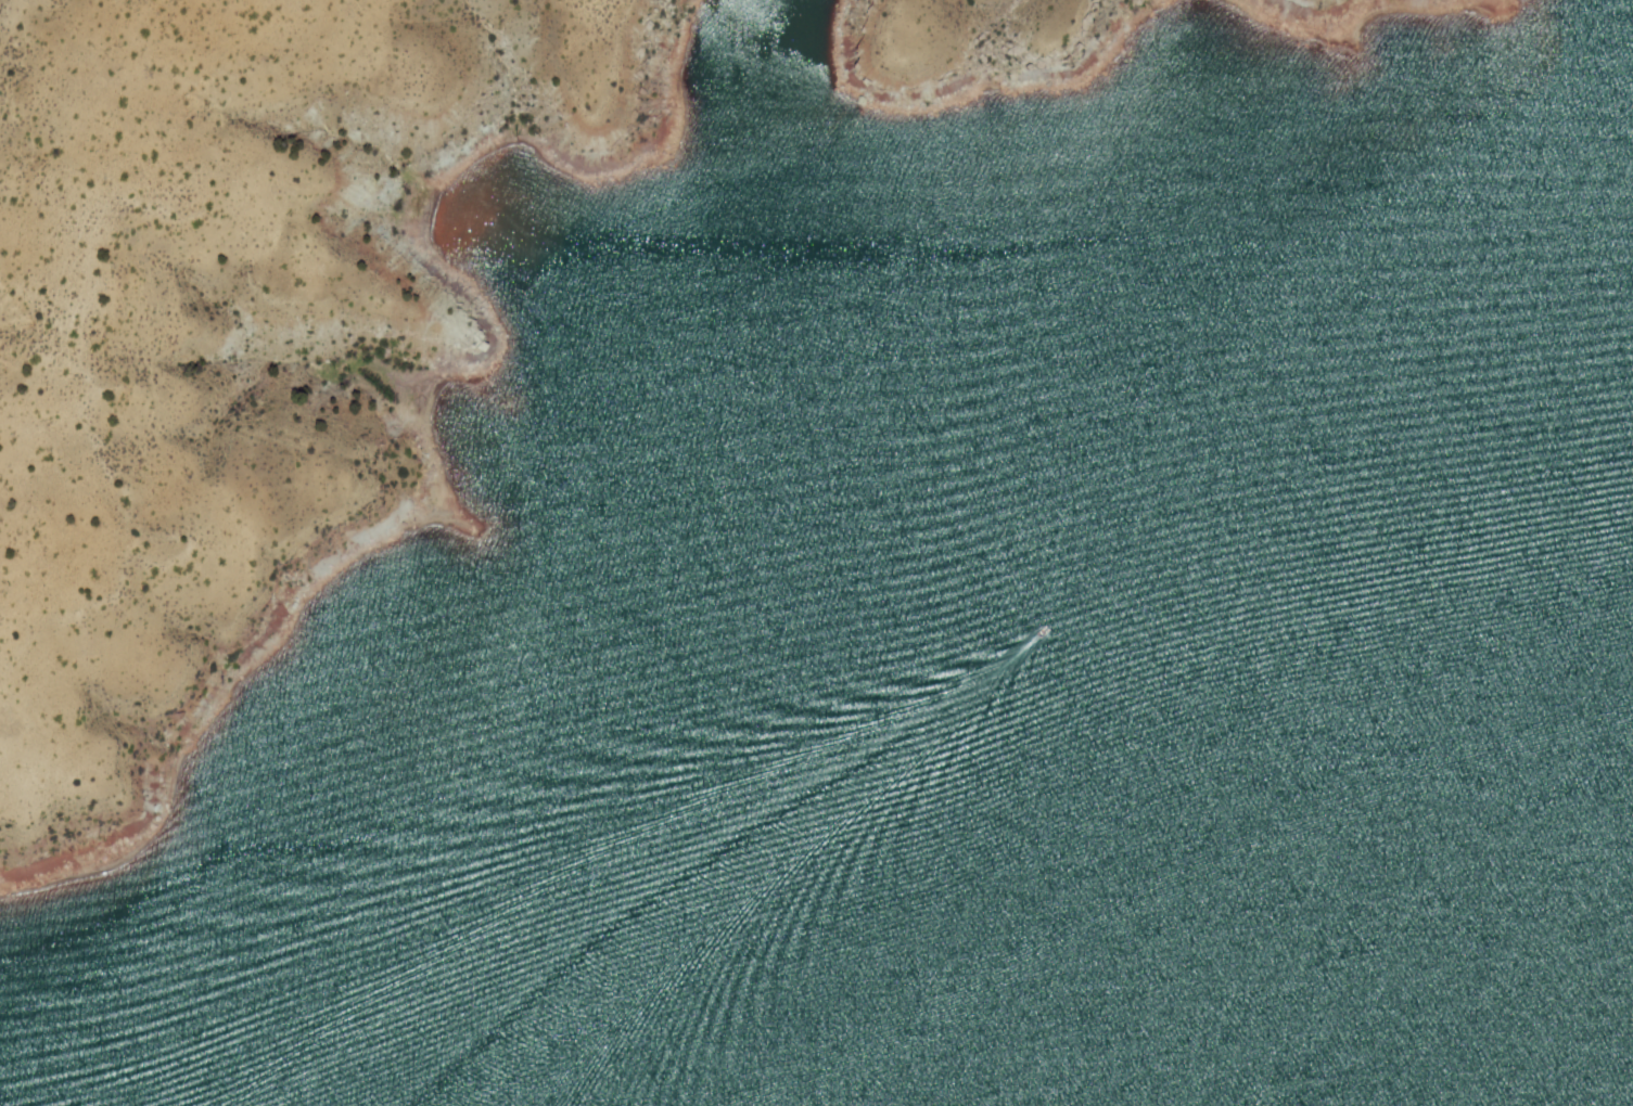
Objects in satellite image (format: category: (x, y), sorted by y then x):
river: (1446, 1023)

